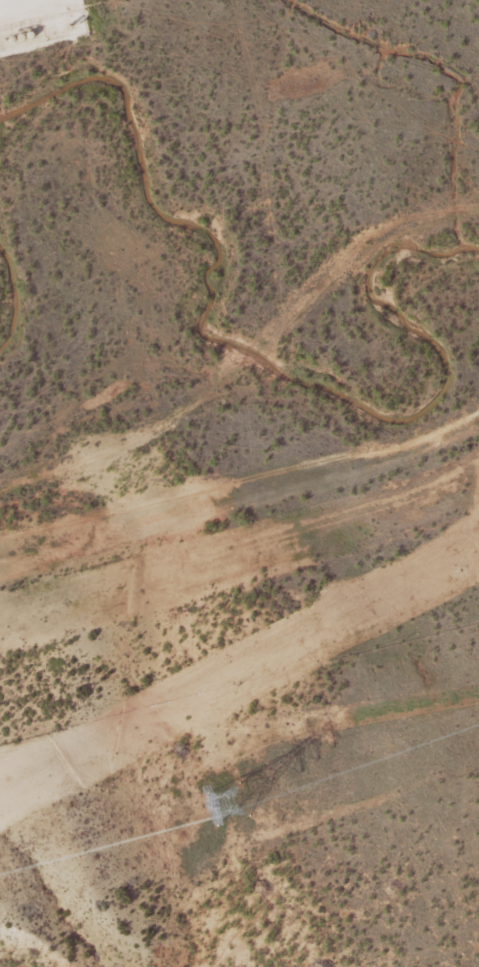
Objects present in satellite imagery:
power tower: (230, 803)

